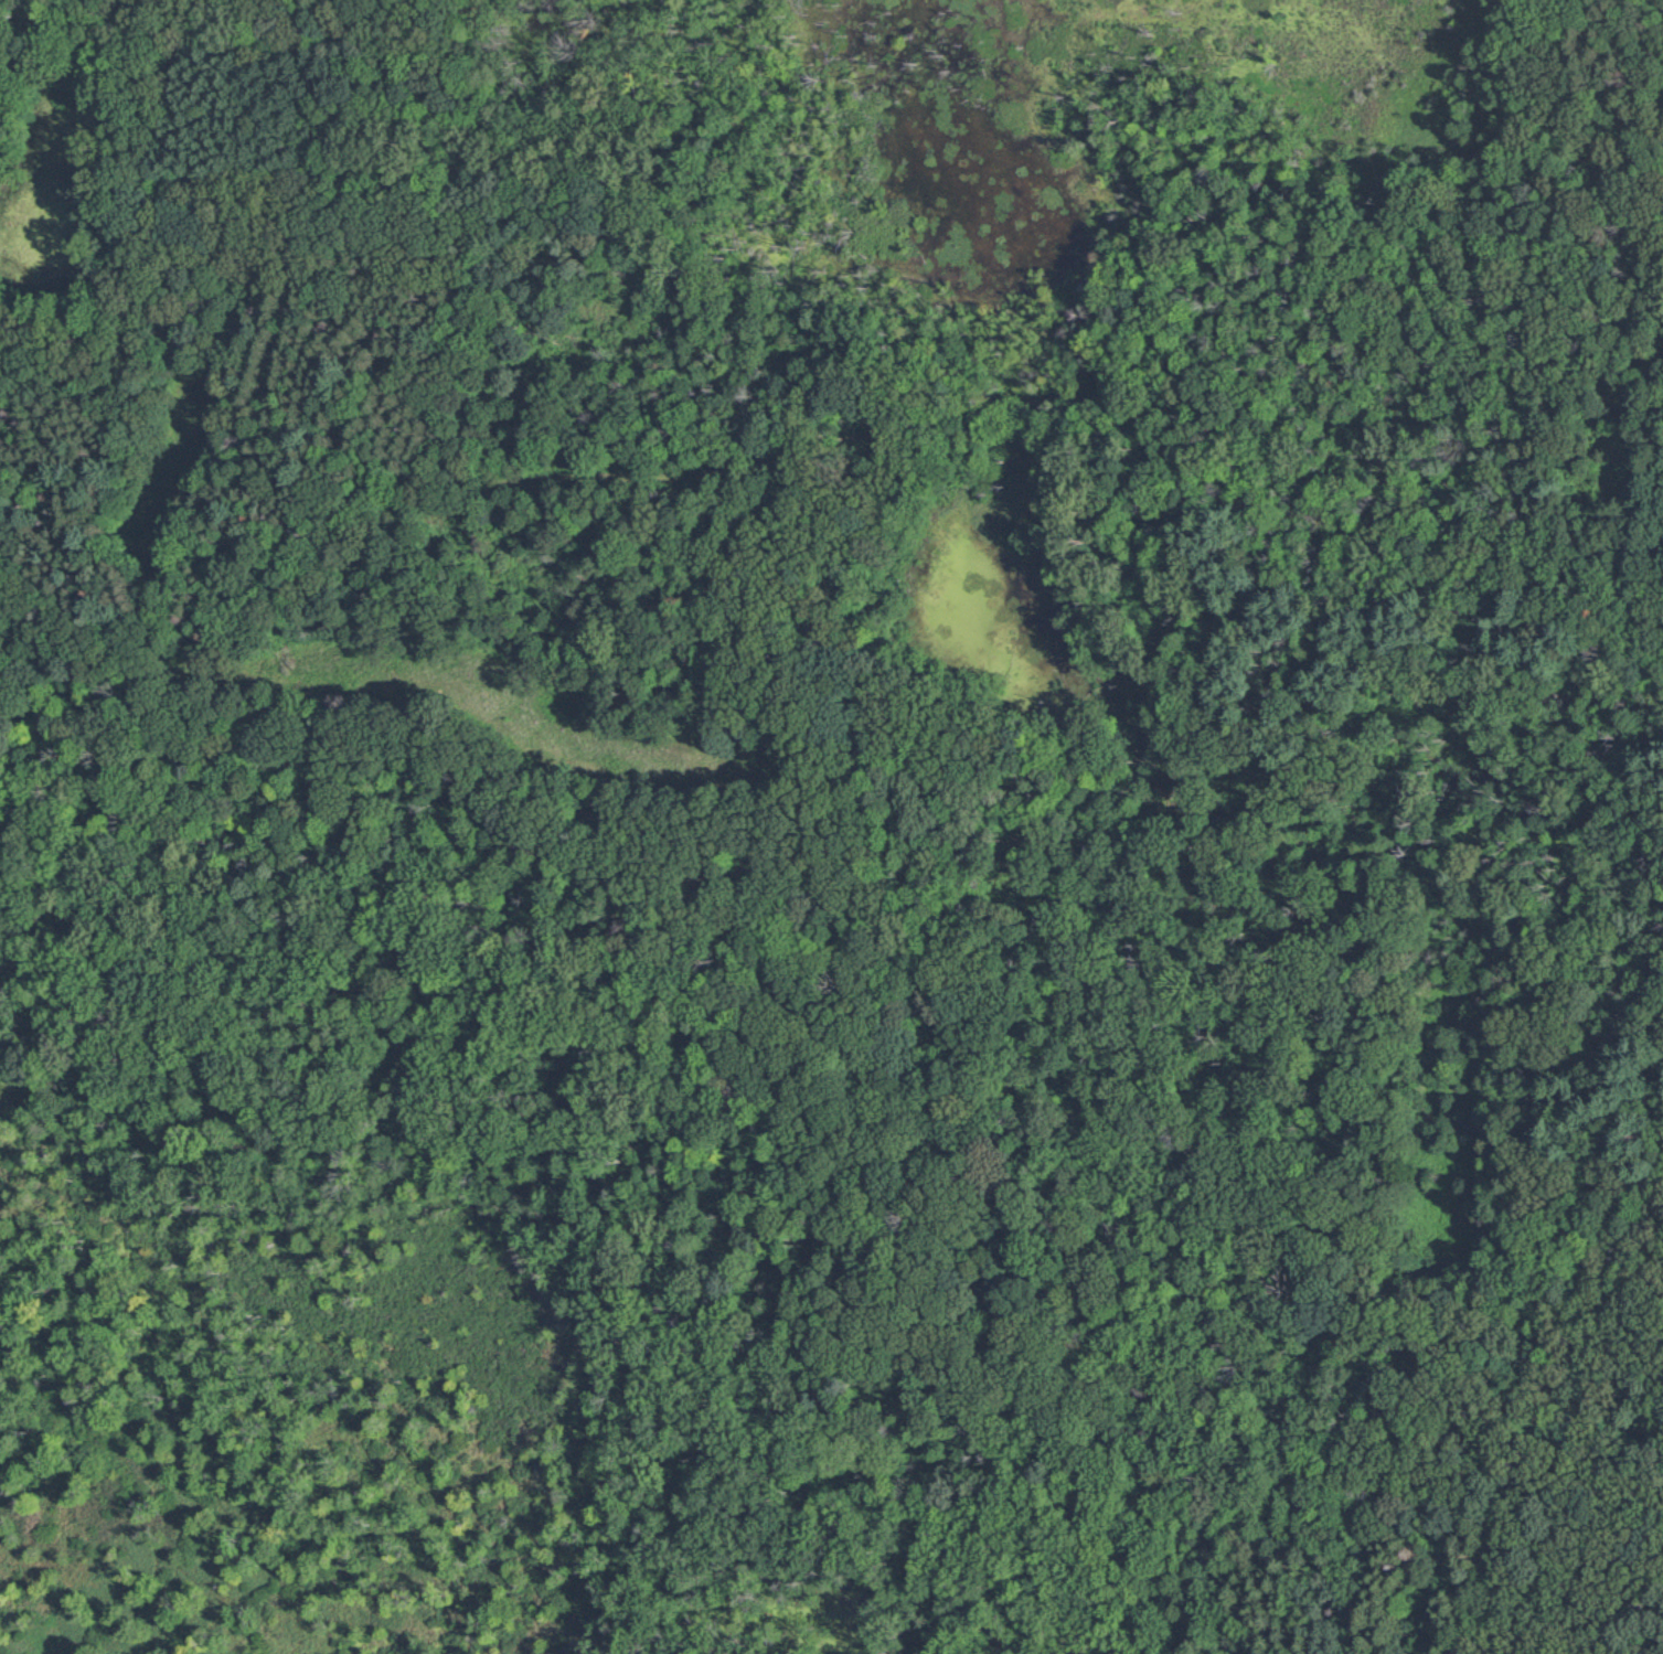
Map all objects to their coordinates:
road: (756, 457)
road: (1555, 1466)

